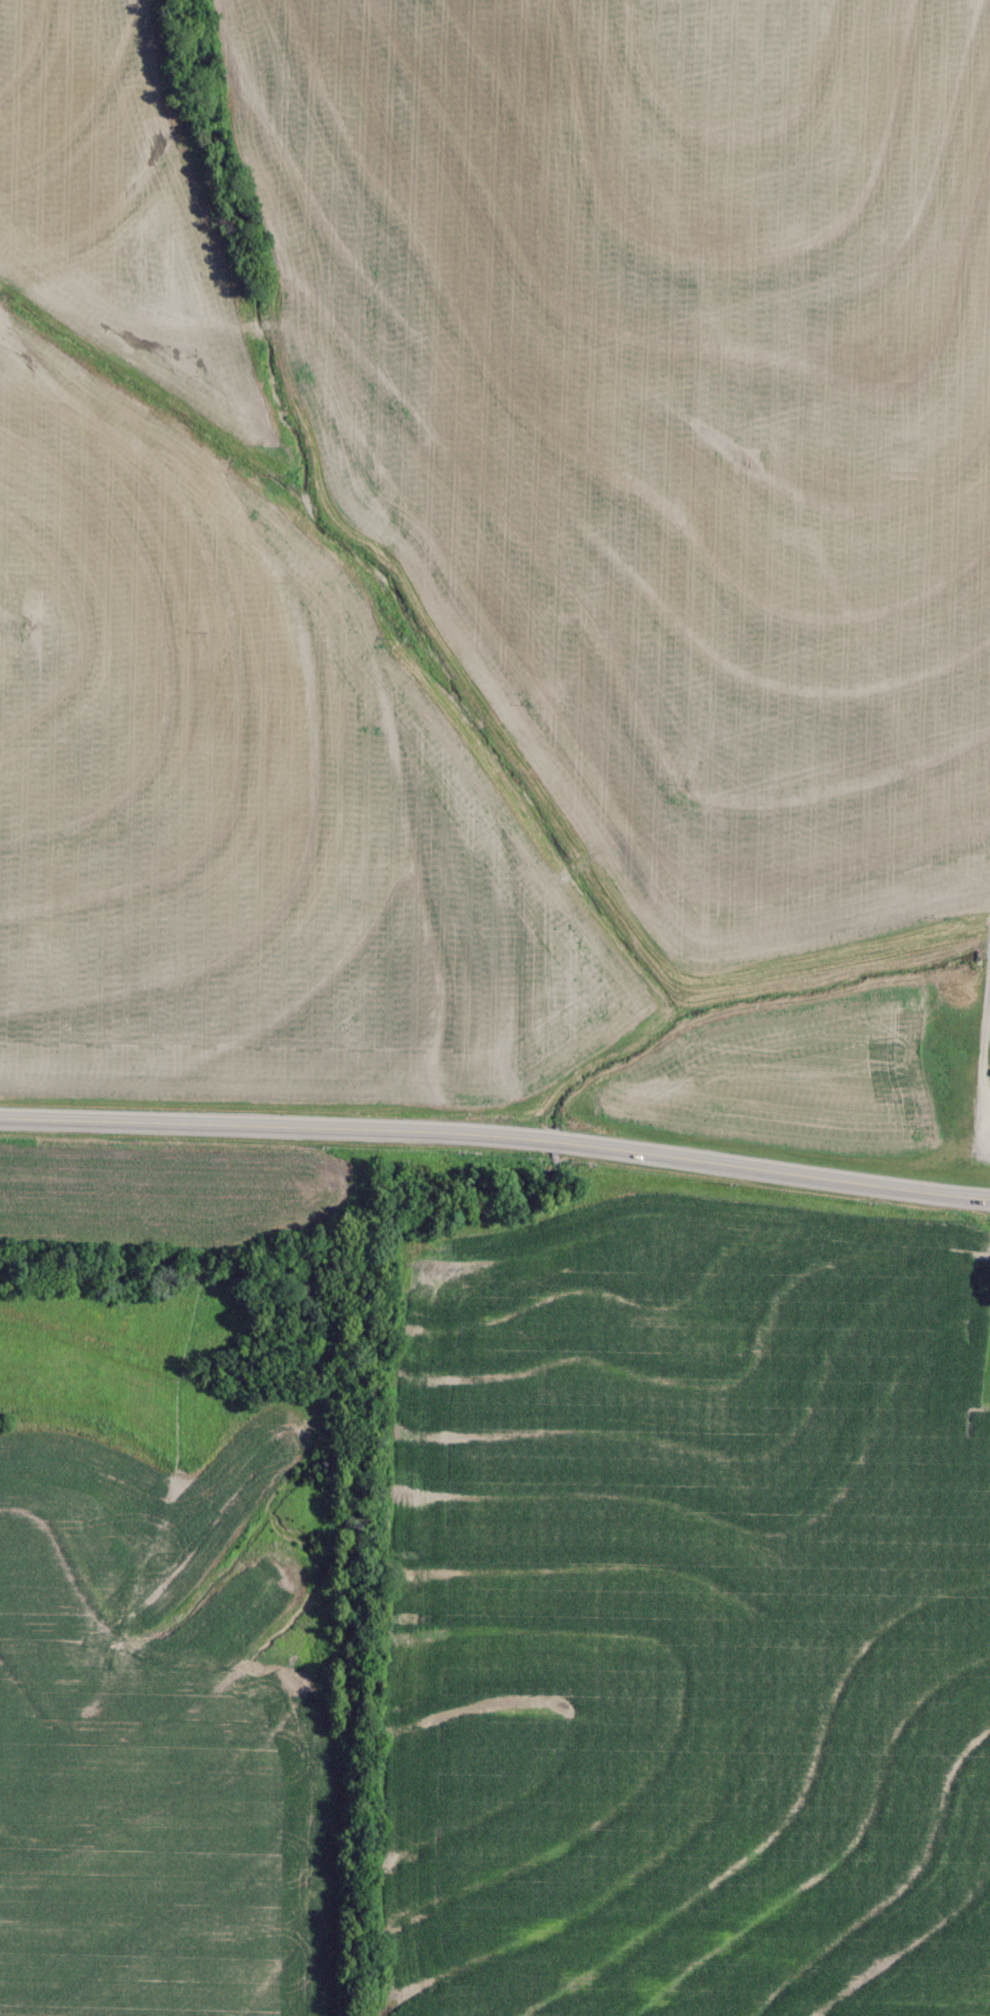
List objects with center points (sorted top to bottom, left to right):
crop: (105, 177)
crop: (672, 421)
crop: (251, 815)
road: (497, 1134)
crop: (691, 1611)

